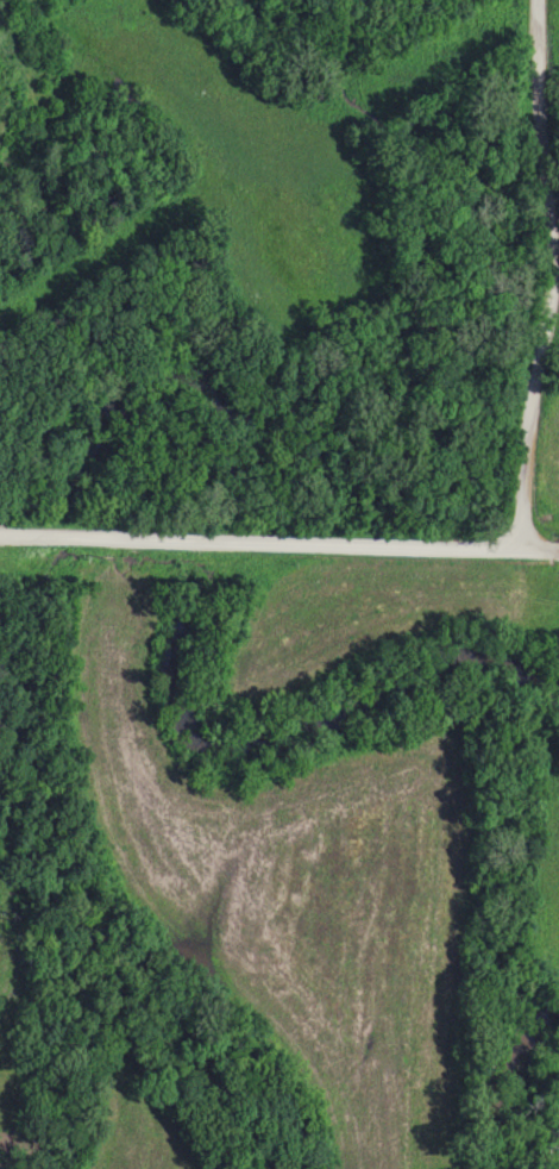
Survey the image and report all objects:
road: (558, 276)
road: (279, 543)

